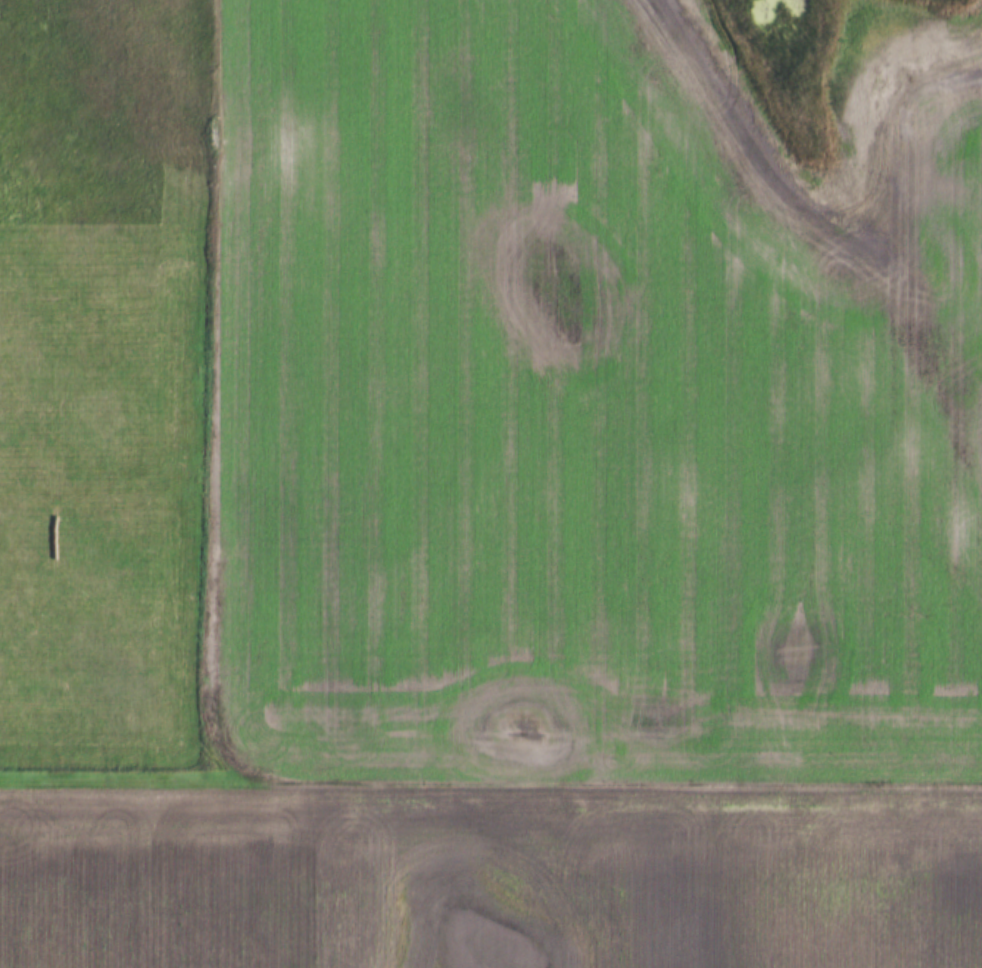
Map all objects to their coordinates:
road: (208, 389)
road: (490, 783)

